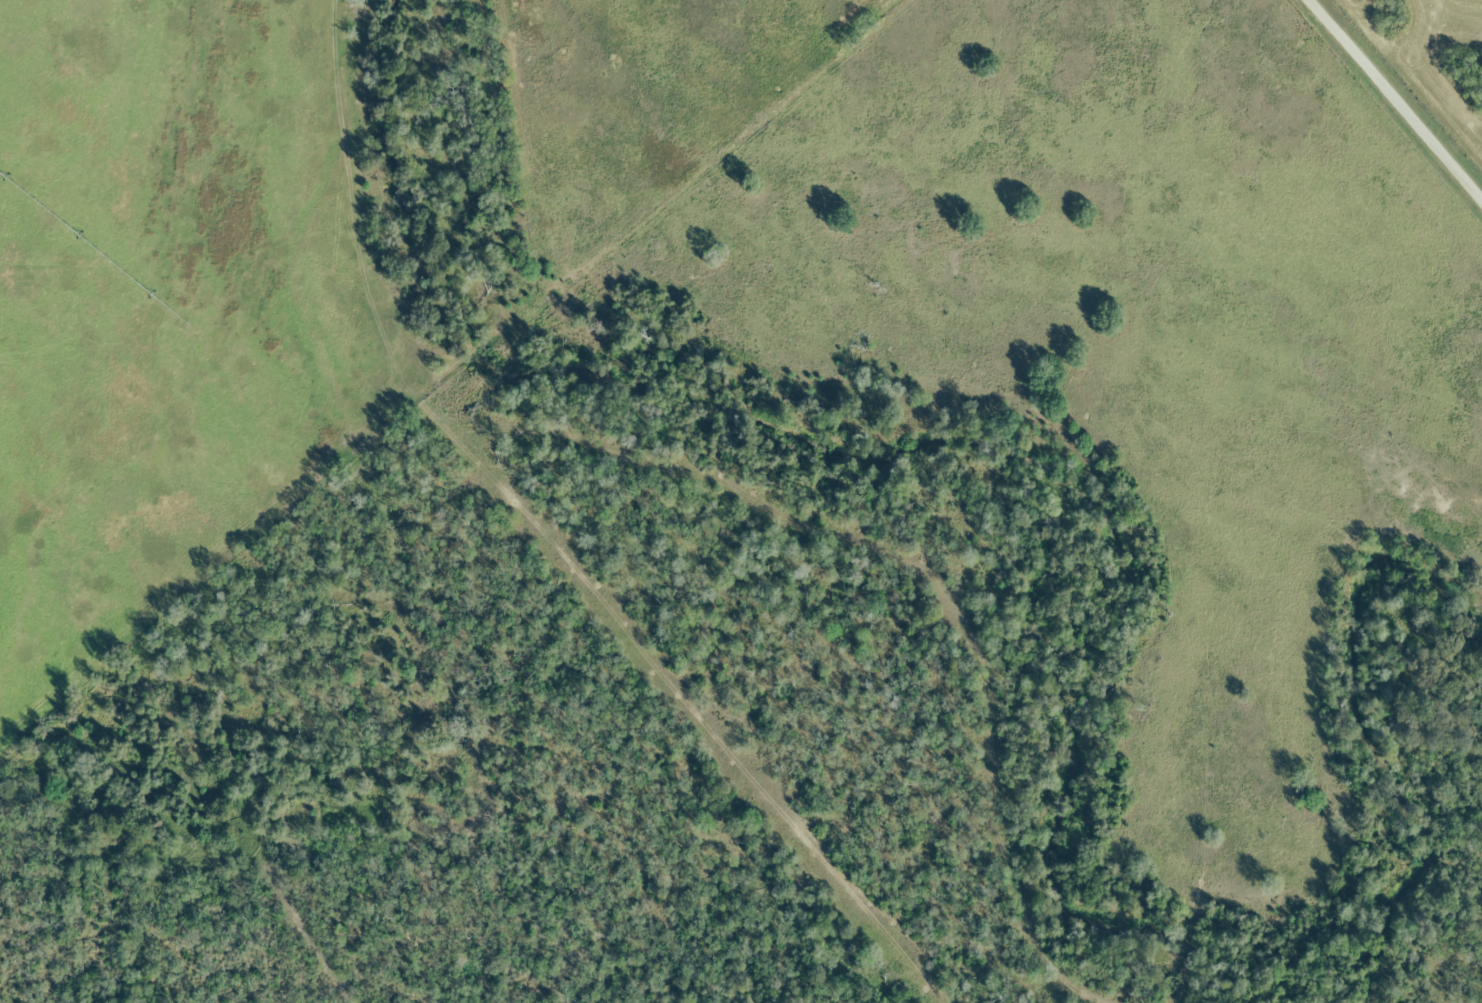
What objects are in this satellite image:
road: (1397, 99)

